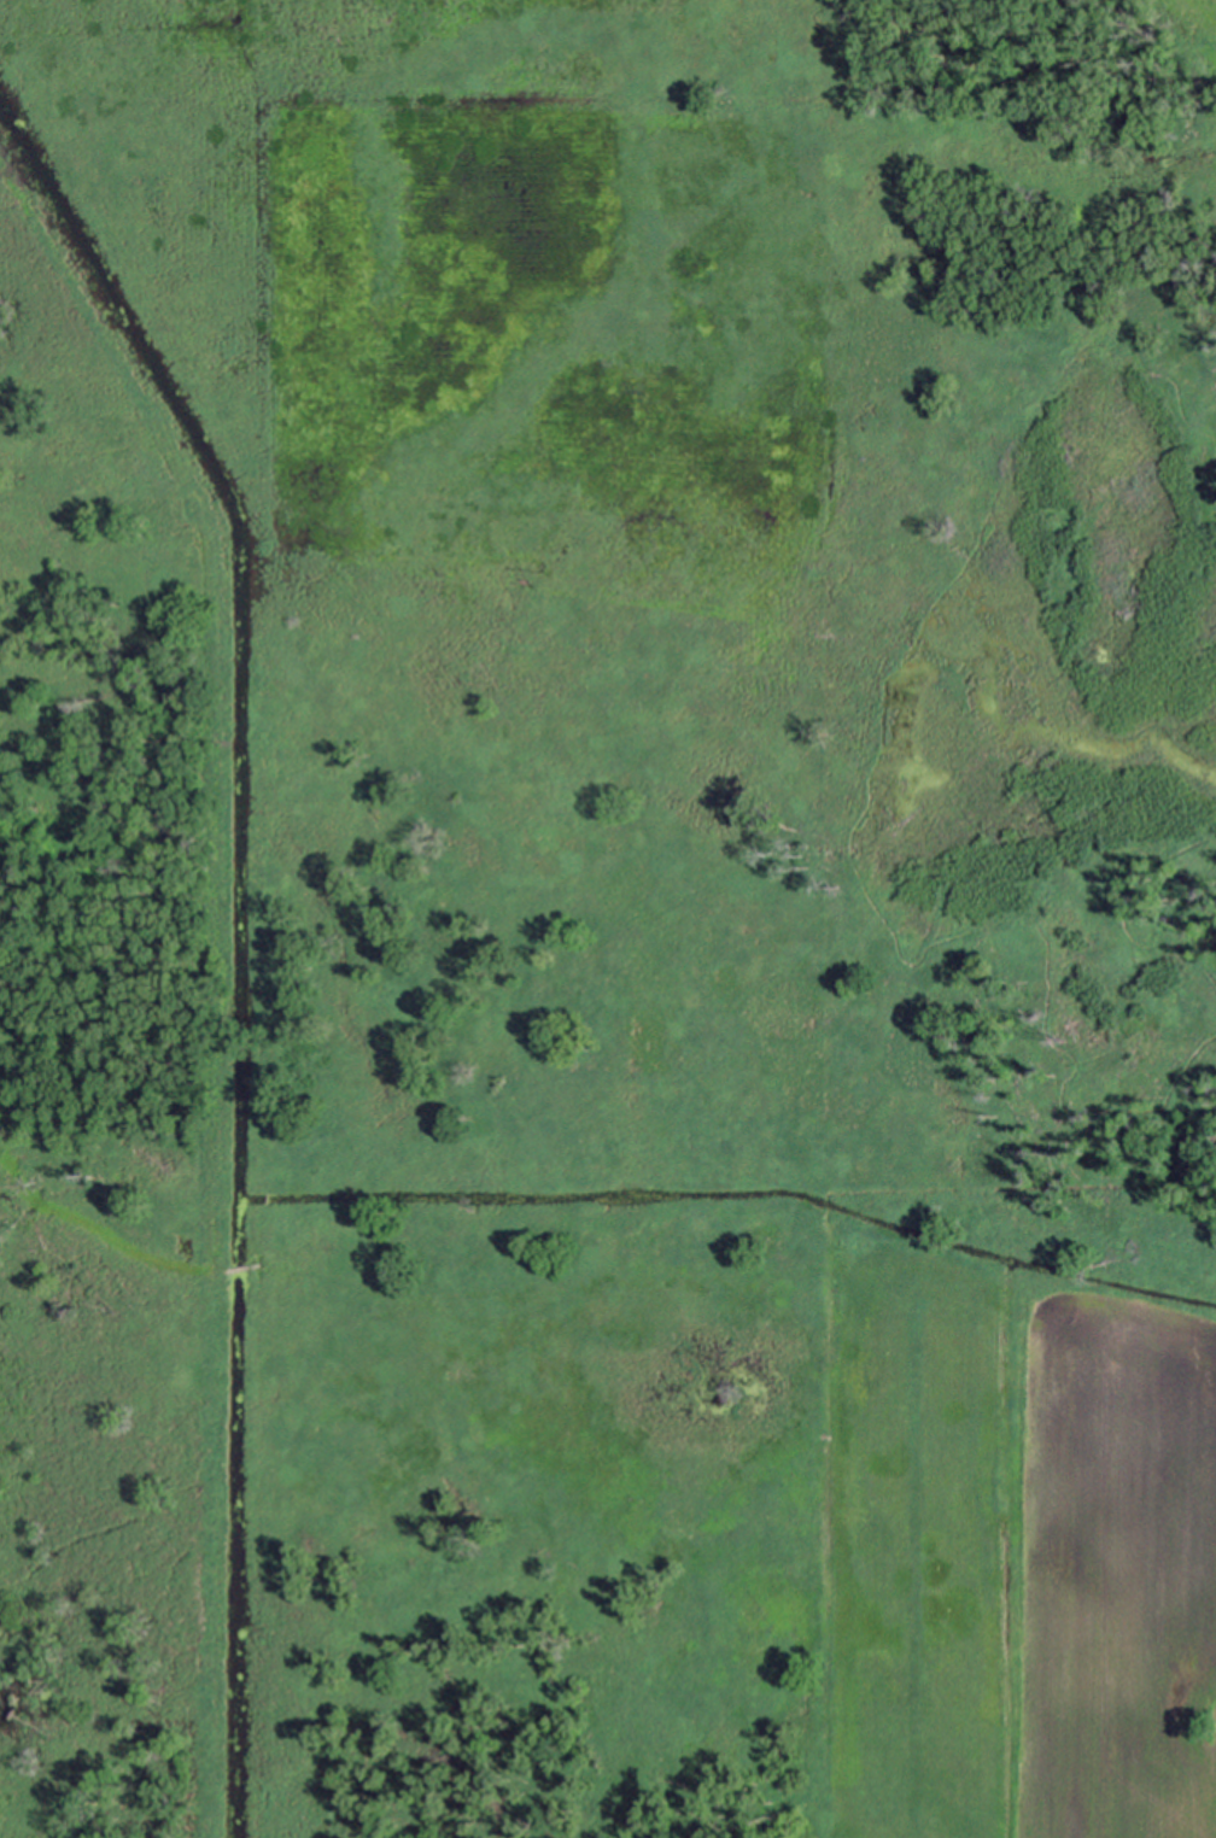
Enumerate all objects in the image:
building: (240, 1271)

